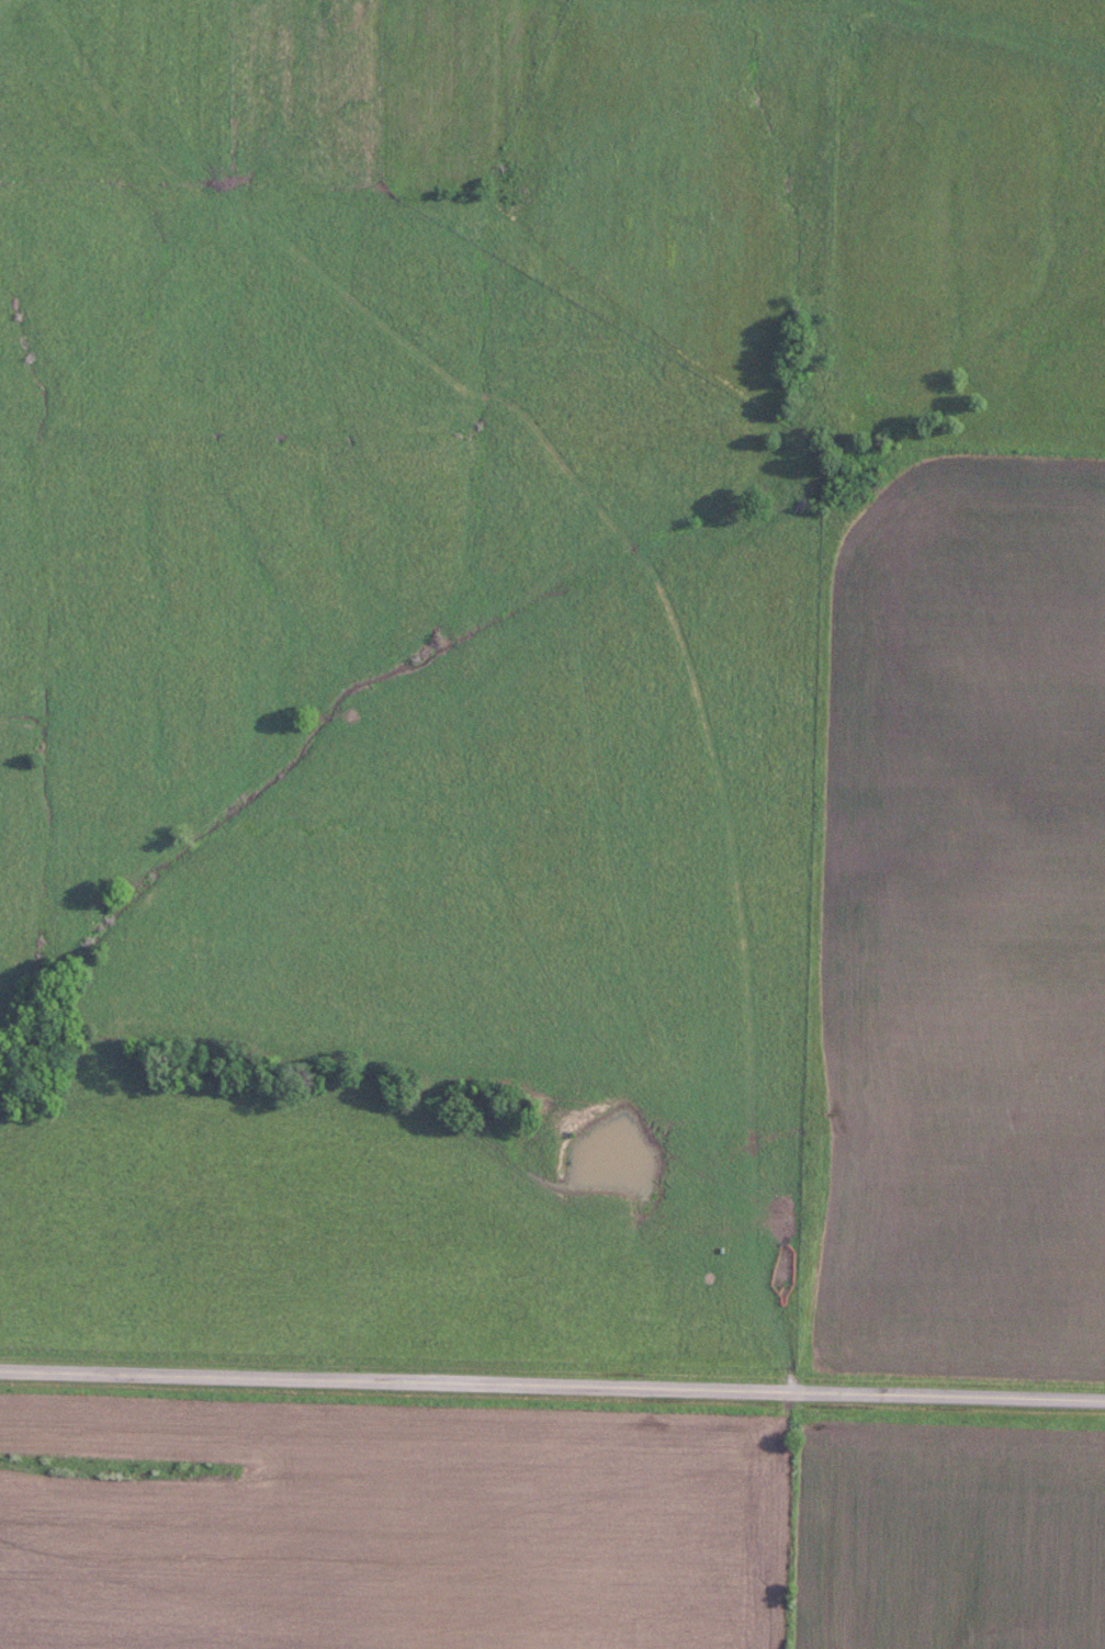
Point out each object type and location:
road: (552, 1386)

